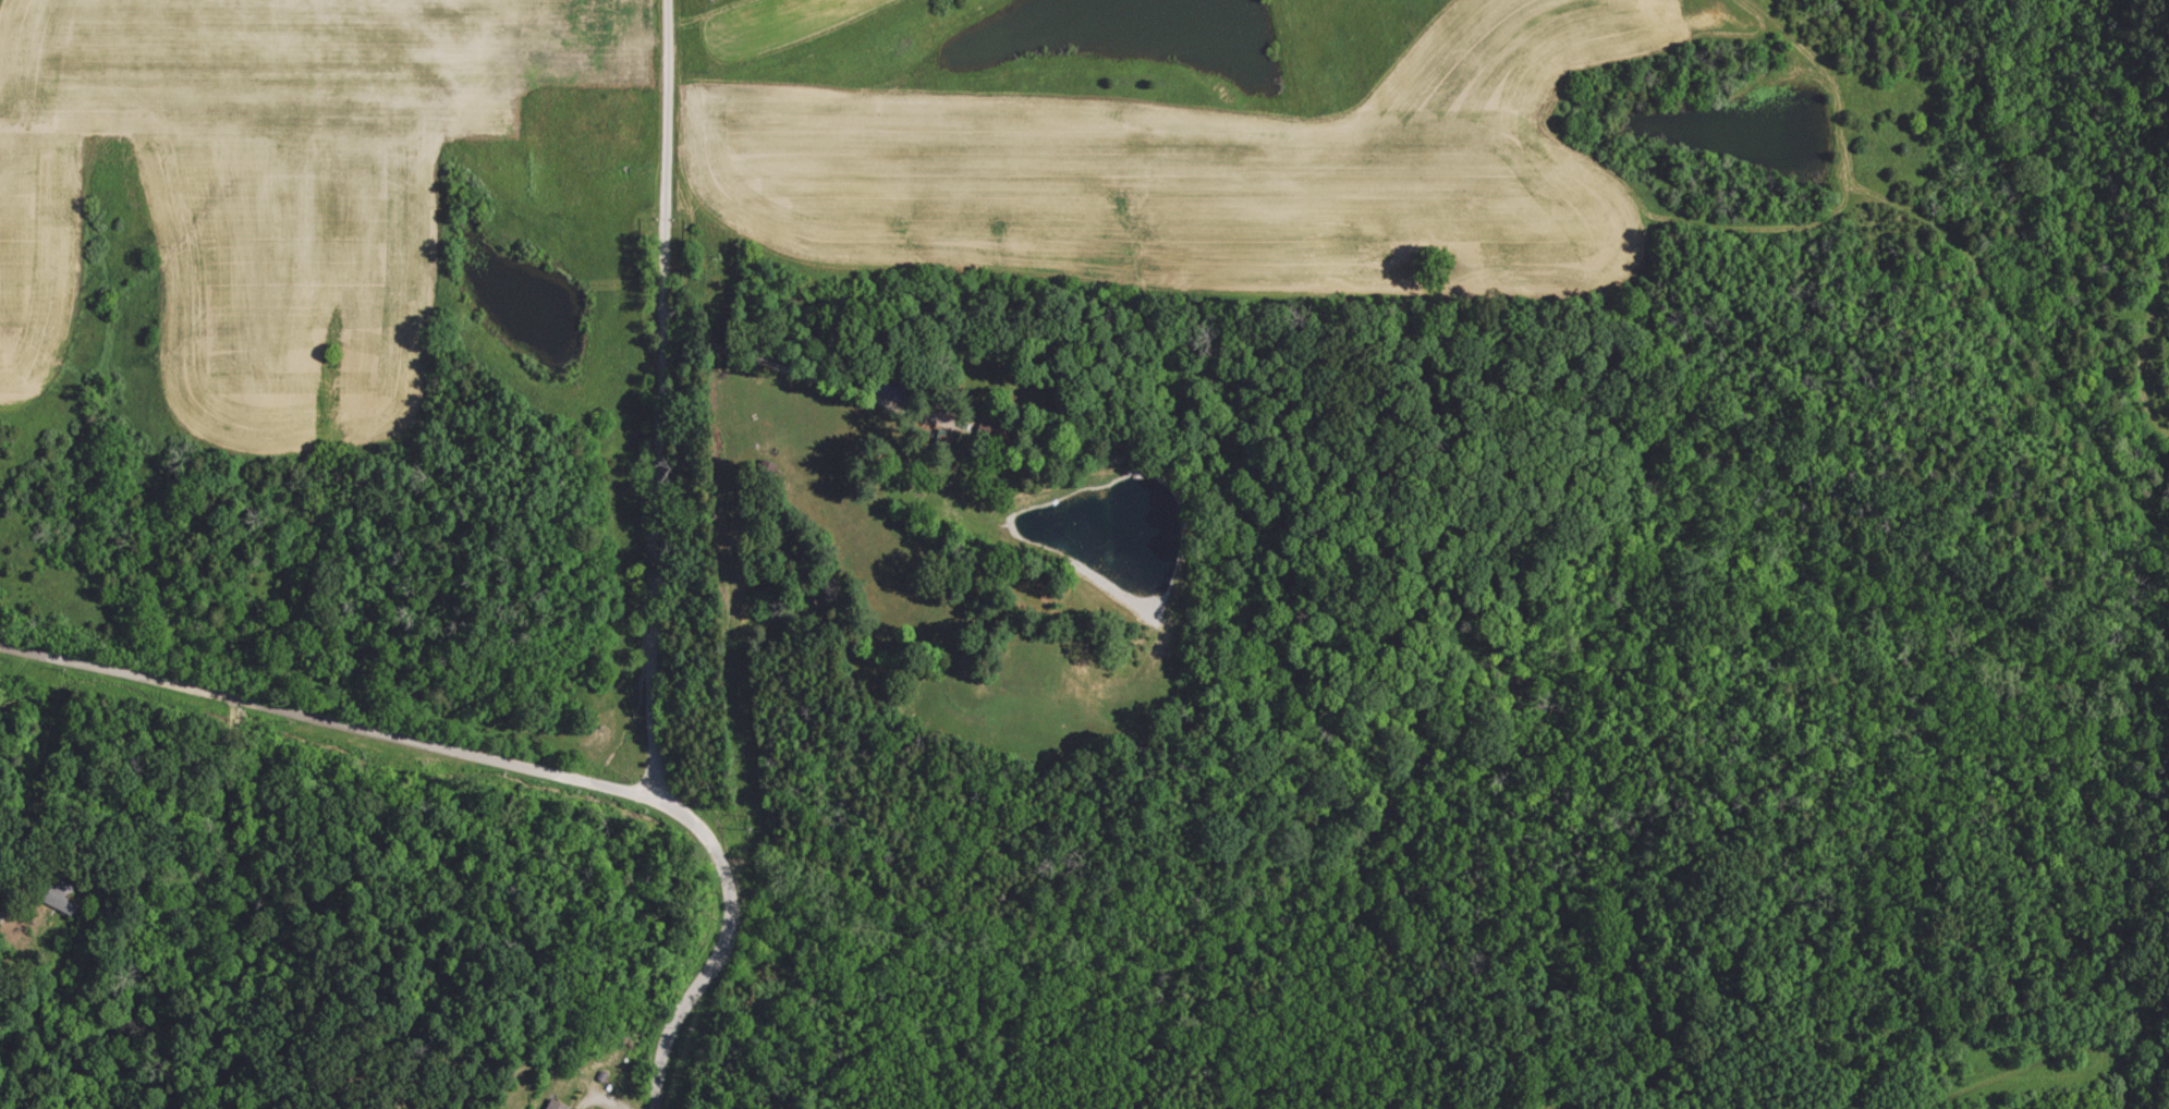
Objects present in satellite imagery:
road: (751, 357)
road: (654, 404)
road: (489, 777)
building: (68, 900)
building: (560, 1105)

